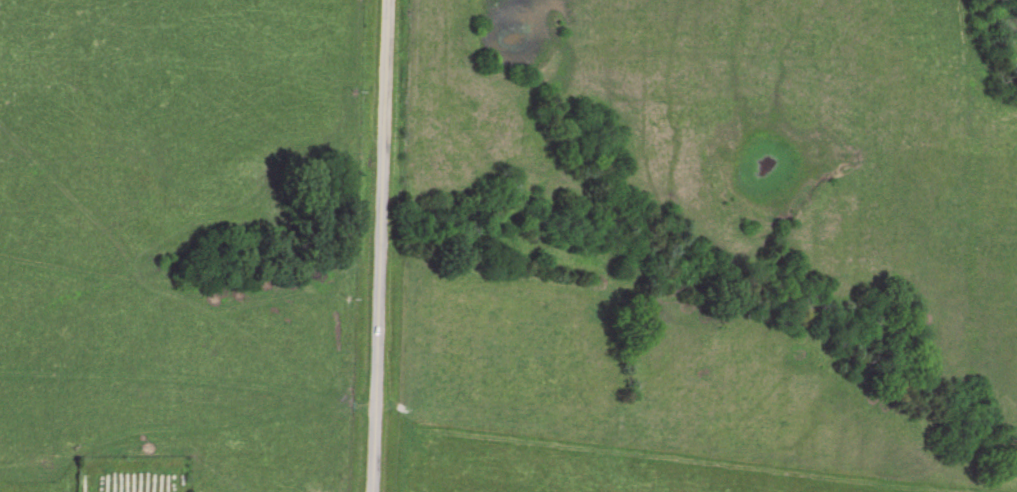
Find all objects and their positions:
road: (374, 245)

